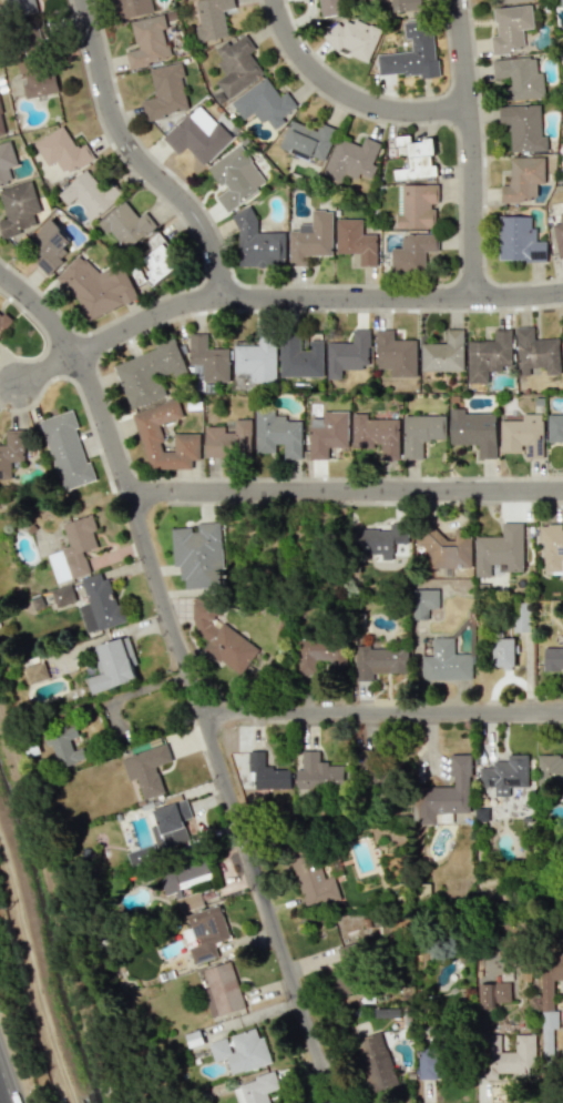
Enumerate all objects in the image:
building: (514, 1)
building: (561, 2)
building: (406, 4)
building: (330, 7)
building: (132, 8)
building: (212, 18)
building: (510, 28)
building: (352, 38)
building: (147, 41)
building: (412, 52)
building: (236, 65)
building: (519, 78)
building: (35, 79)
building: (165, 91)
road: (350, 95)
building: (264, 103)
building: (1, 125)
building: (523, 127)
building: (197, 134)
building: (307, 139)
road: (474, 148)
building: (62, 151)
road: (140, 158)
building: (350, 159)
building: (418, 160)
building: (6, 162)
building: (235, 176)
building: (523, 178)
building: (89, 194)
building: (416, 205)
building: (18, 208)
building: (126, 225)
building: (559, 235)
building: (310, 237)
building: (519, 240)
building: (356, 241)
building: (257, 243)
building: (49, 245)
building: (412, 251)
building: (158, 259)
building: (98, 287)
road: (313, 296)
building: (3, 323)
building: (562, 323)
building: (443, 353)
building: (536, 353)
building: (348, 354)
building: (395, 354)
building: (488, 355)
building: (299, 357)
building: (208, 358)
building: (255, 360)
road: (47, 370)
building: (147, 373)
building: (554, 427)
building: (473, 431)
building: (327, 433)
building: (420, 433)
building: (186, 434)
building: (276, 434)
building: (376, 434)
building: (523, 435)
building: (228, 441)
building: (65, 449)
building: (11, 451)
road: (346, 488)
building: (552, 546)
building: (73, 549)
building: (447, 549)
building: (499, 549)
building: (197, 555)
building: (62, 595)
building: (422, 601)
building: (99, 603)
building: (521, 617)
building: (219, 637)
building: (503, 651)
building: (319, 654)
building: (553, 659)
building: (379, 661)
building: (446, 661)
building: (114, 665)
building: (35, 671)
road: (191, 675)
road: (382, 709)
building: (64, 746)
building: (146, 769)
building: (266, 773)
building: (550, 773)
building: (317, 775)
building: (506, 776)
building: (444, 793)
building: (171, 826)
building: (311, 879)
building: (184, 881)
building: (205, 932)
building: (344, 984)
building: (222, 990)
building: (494, 994)
building: (549, 1001)
building: (194, 1039)
building: (240, 1051)
building: (506, 1056)
building: (375, 1062)
building: (431, 1063)
road: (9, 1079)
building: (255, 1089)

